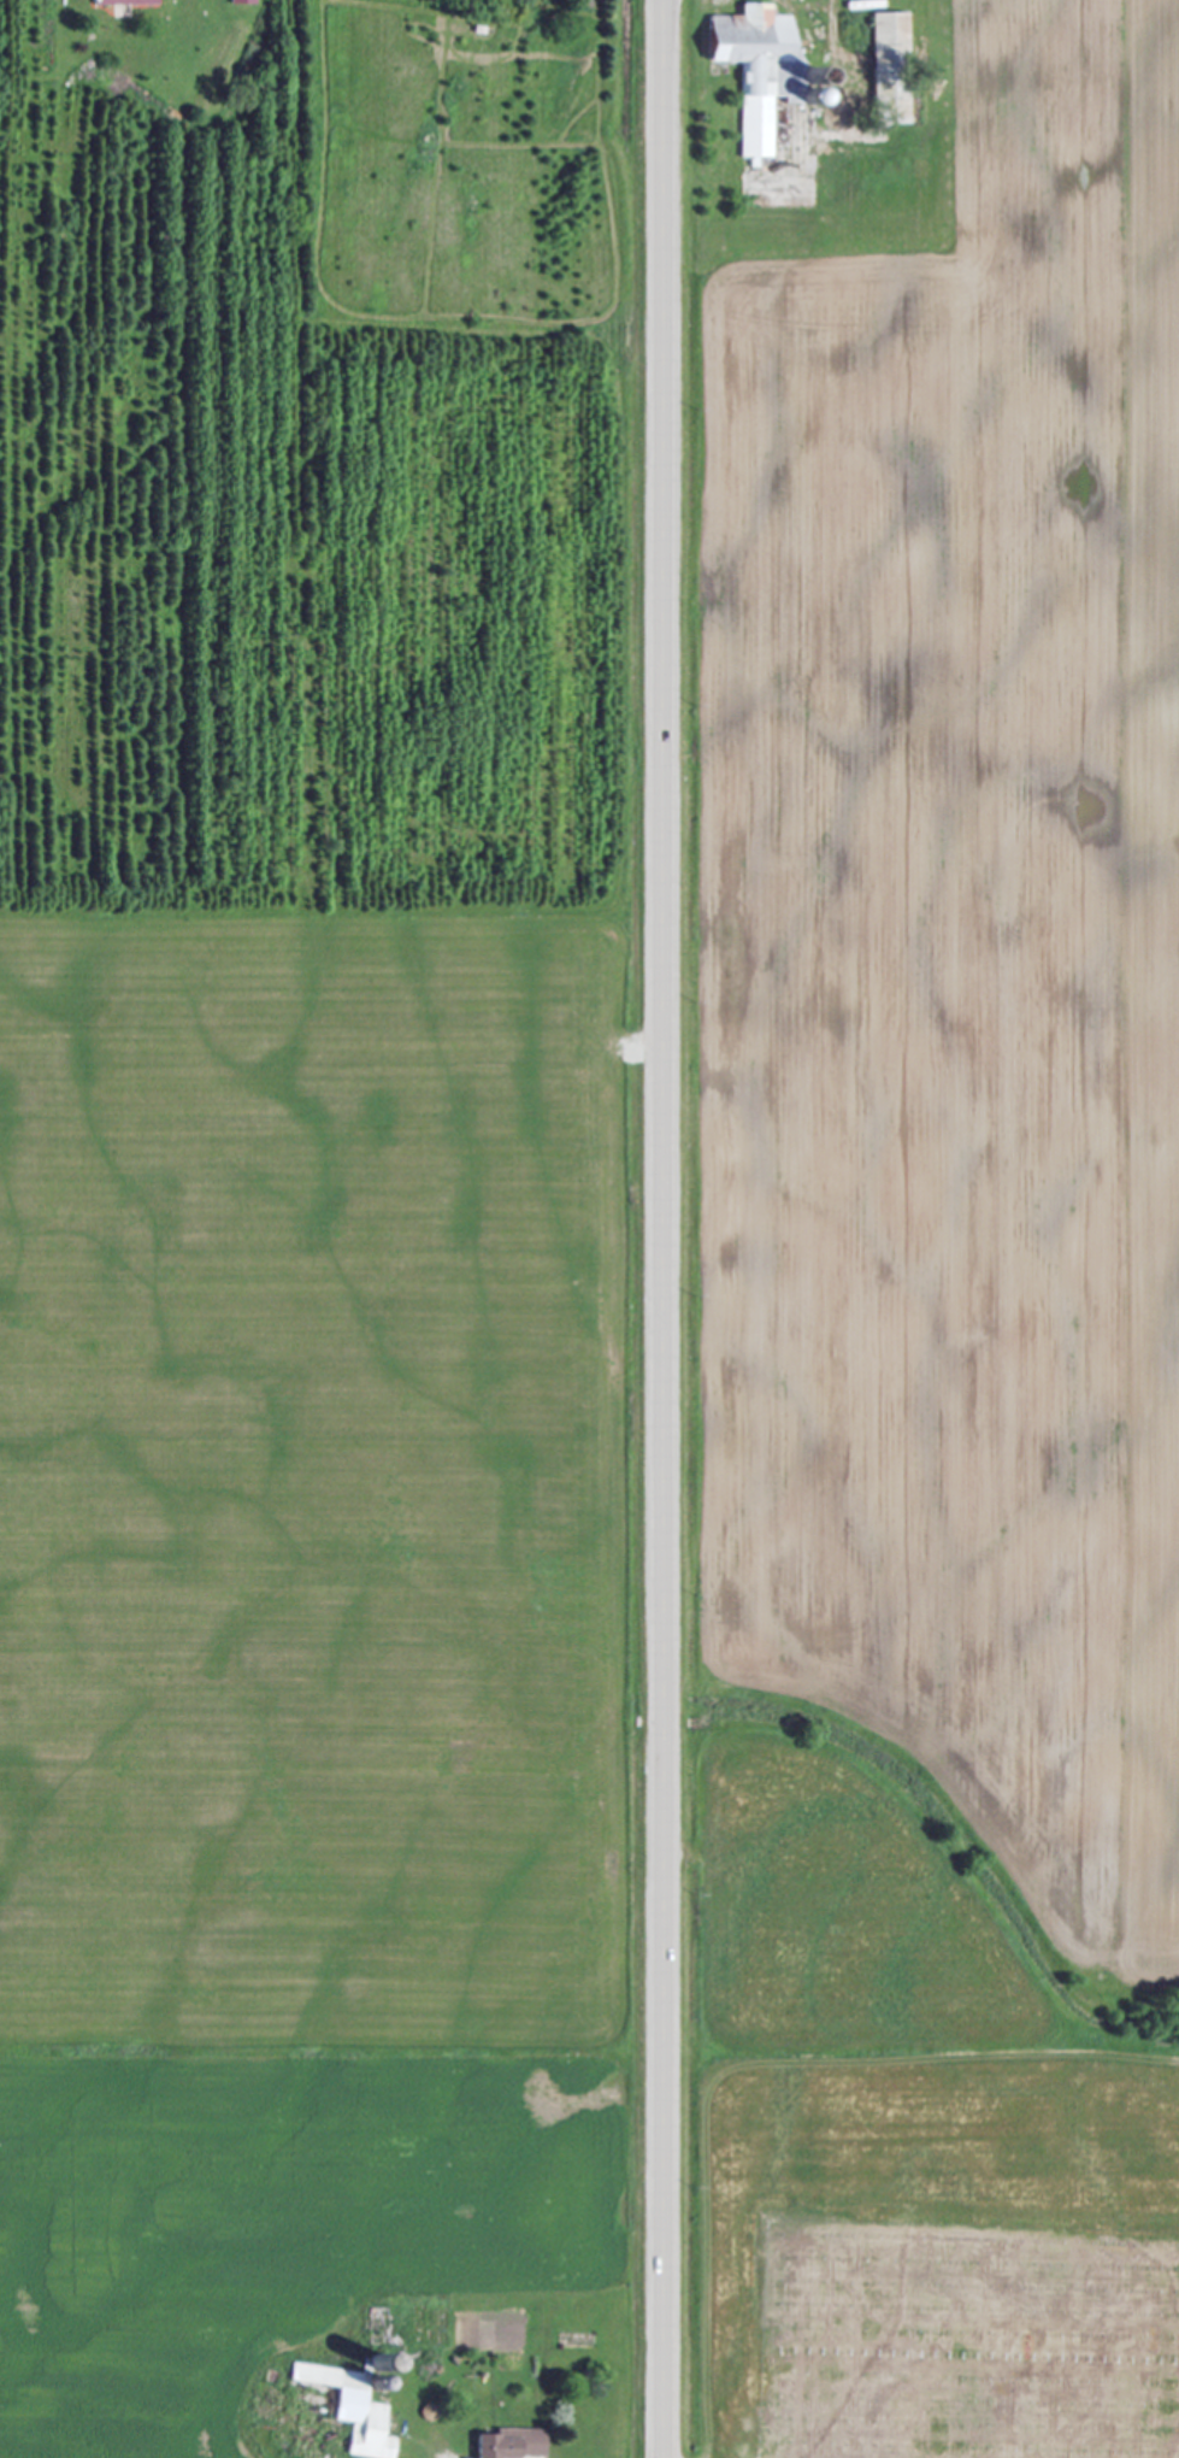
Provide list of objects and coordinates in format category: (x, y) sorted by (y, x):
building: (126, 2)
building: (246, 2)
road: (832, 14)
building: (761, 70)
building: (894, 70)
road: (662, 1228)
building: (503, 2444)

